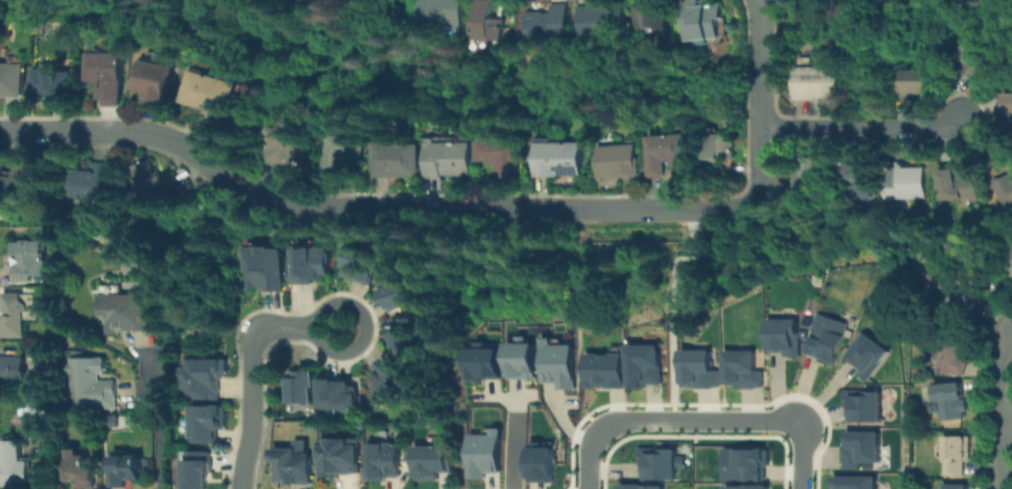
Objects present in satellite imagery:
park: (128, 12)
building: (441, 14)
building: (484, 19)
building: (650, 19)
building: (600, 22)
building: (700, 22)
building: (548, 23)
building: (1009, 53)
building: (978, 54)
road: (756, 63)
building: (101, 74)
building: (10, 80)
building: (150, 83)
building: (815, 83)
building: (917, 84)
building: (55, 85)
building: (201, 93)
building: (1010, 105)
road: (858, 124)
building: (288, 147)
building: (716, 148)
building: (341, 153)
building: (664, 153)
building: (498, 156)
building: (445, 159)
building: (556, 160)
building: (394, 161)
building: (615, 161)
building: (153, 179)
building: (21, 180)
building: (88, 180)
building: (856, 183)
building: (907, 183)
building: (807, 184)
building: (961, 185)
building: (1006, 193)
road: (402, 206)
road: (687, 222)
road: (679, 258)
building: (363, 259)
building: (976, 259)
building: (28, 260)
building: (1009, 263)
building: (311, 265)
building: (884, 267)
building: (268, 269)
road: (670, 273)
road: (670, 285)
building: (401, 289)
road: (670, 300)
building: (959, 307)
building: (14, 314)
building: (126, 314)
road: (366, 329)
building: (405, 334)
building: (783, 334)
building: (827, 336)
building: (867, 352)
building: (947, 352)
building: (519, 358)
building: (482, 360)
building: (555, 363)
building: (644, 363)
building: (742, 366)
building: (16, 367)
road: (670, 367)
building: (698, 367)
building: (605, 368)
building: (388, 376)
building: (205, 377)
road: (1002, 381)
building: (301, 383)
building: (92, 384)
building: (338, 396)
road: (251, 399)
building: (862, 402)
building: (38, 403)
building: (949, 404)
building: (109, 418)
road: (694, 420)
road: (1006, 423)
building: (208, 424)
road: (154, 425)
street lamp: (670, 430)
street lamp: (763, 431)
road: (511, 440)
building: (858, 446)
building: (481, 452)
building: (956, 455)
road: (1000, 456)
road: (800, 457)
building: (341, 459)
building: (537, 459)
building: (657, 460)
building: (743, 461)
building: (387, 462)
building: (434, 462)
road: (590, 463)
building: (15, 464)
building: (294, 466)
building: (81, 470)
building: (127, 470)
building: (196, 470)
street lamp: (598, 481)
building: (854, 481)
building: (642, 486)
building: (750, 486)
building: (957, 487)

